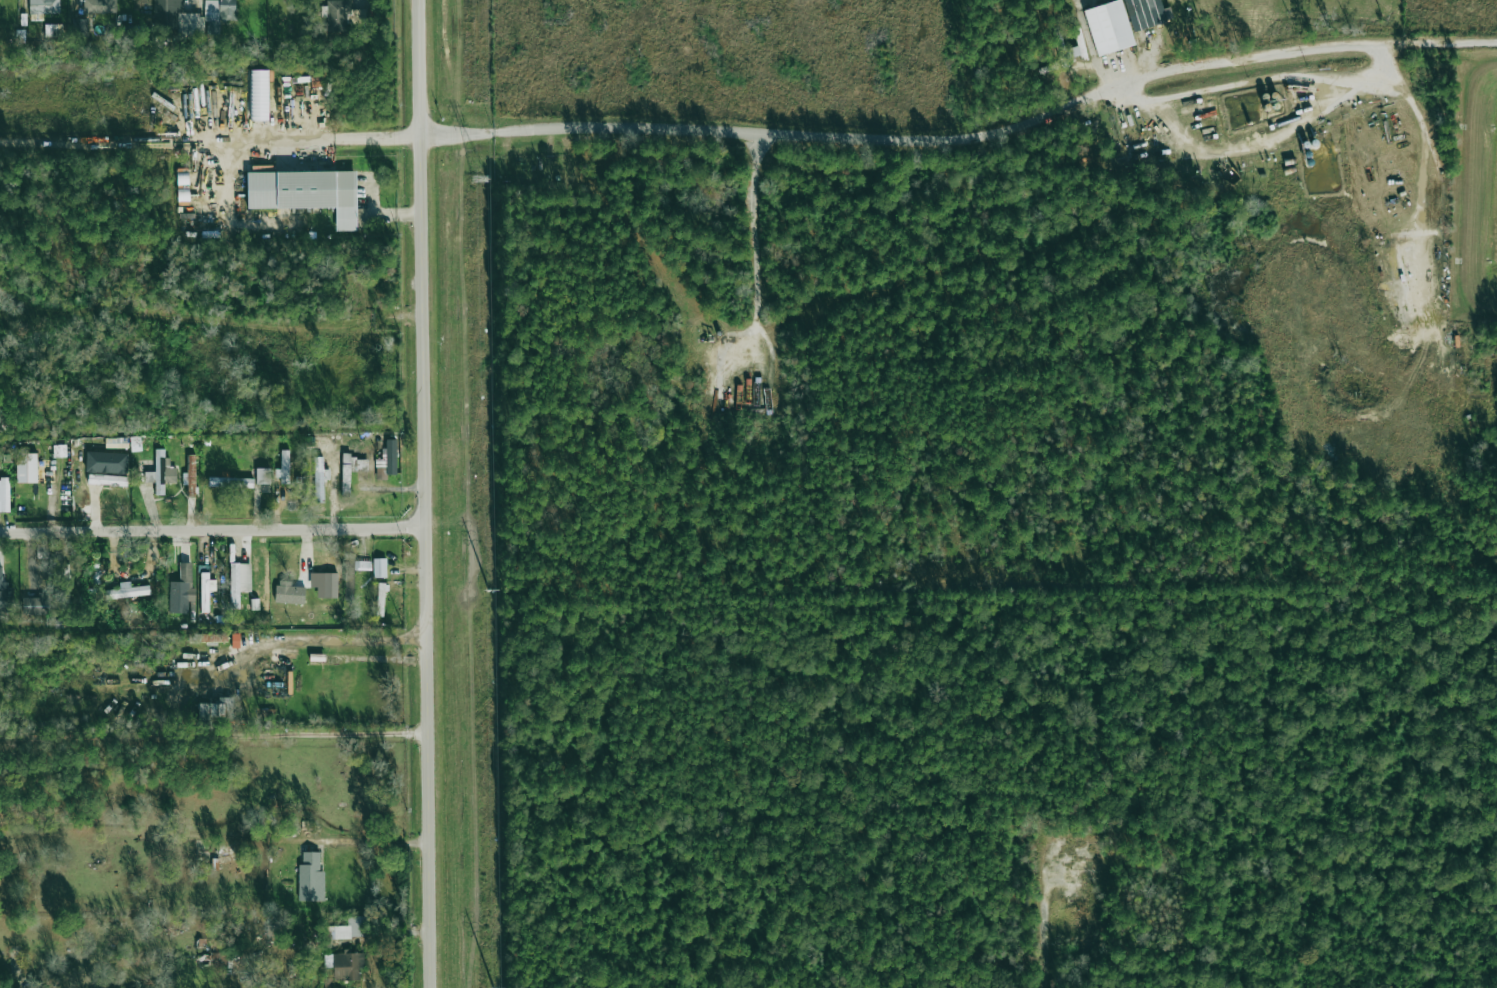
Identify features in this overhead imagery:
building: (44, 6)
building: (99, 6)
building: (220, 10)
building: (1145, 13)
building: (336, 14)
road: (4, 15)
building: (177, 18)
building: (80, 27)
building: (1109, 27)
building: (1063, 48)
road: (1276, 77)
building: (259, 95)
road: (1306, 103)
road: (1432, 135)
road: (965, 144)
road: (273, 145)
road: (1133, 149)
road: (1267, 149)
power tower: (480, 179)
building: (306, 192)
road: (759, 231)
road: (1424, 310)
road: (723, 380)
building: (135, 442)
building: (59, 450)
building: (387, 461)
building: (359, 464)
building: (106, 466)
building: (26, 467)
building: (284, 467)
building: (161, 472)
building: (191, 474)
building: (345, 474)
building: (263, 475)
building: (320, 478)
building: (230, 482)
road: (425, 493)
building: (4, 494)
road: (213, 531)
building: (362, 564)
building: (306, 565)
building: (379, 567)
building: (38, 577)
building: (239, 581)
building: (330, 584)
building: (65, 586)
building: (127, 590)
building: (181, 590)
building: (206, 590)
power tower: (486, 590)
building: (289, 592)
building: (5, 595)
building: (381, 599)
building: (207, 637)
road: (312, 638)
building: (317, 656)
building: (216, 710)
road: (214, 738)
road: (380, 844)
building: (311, 878)
building: (349, 928)
road: (1046, 928)
building: (220, 960)
building: (345, 965)

